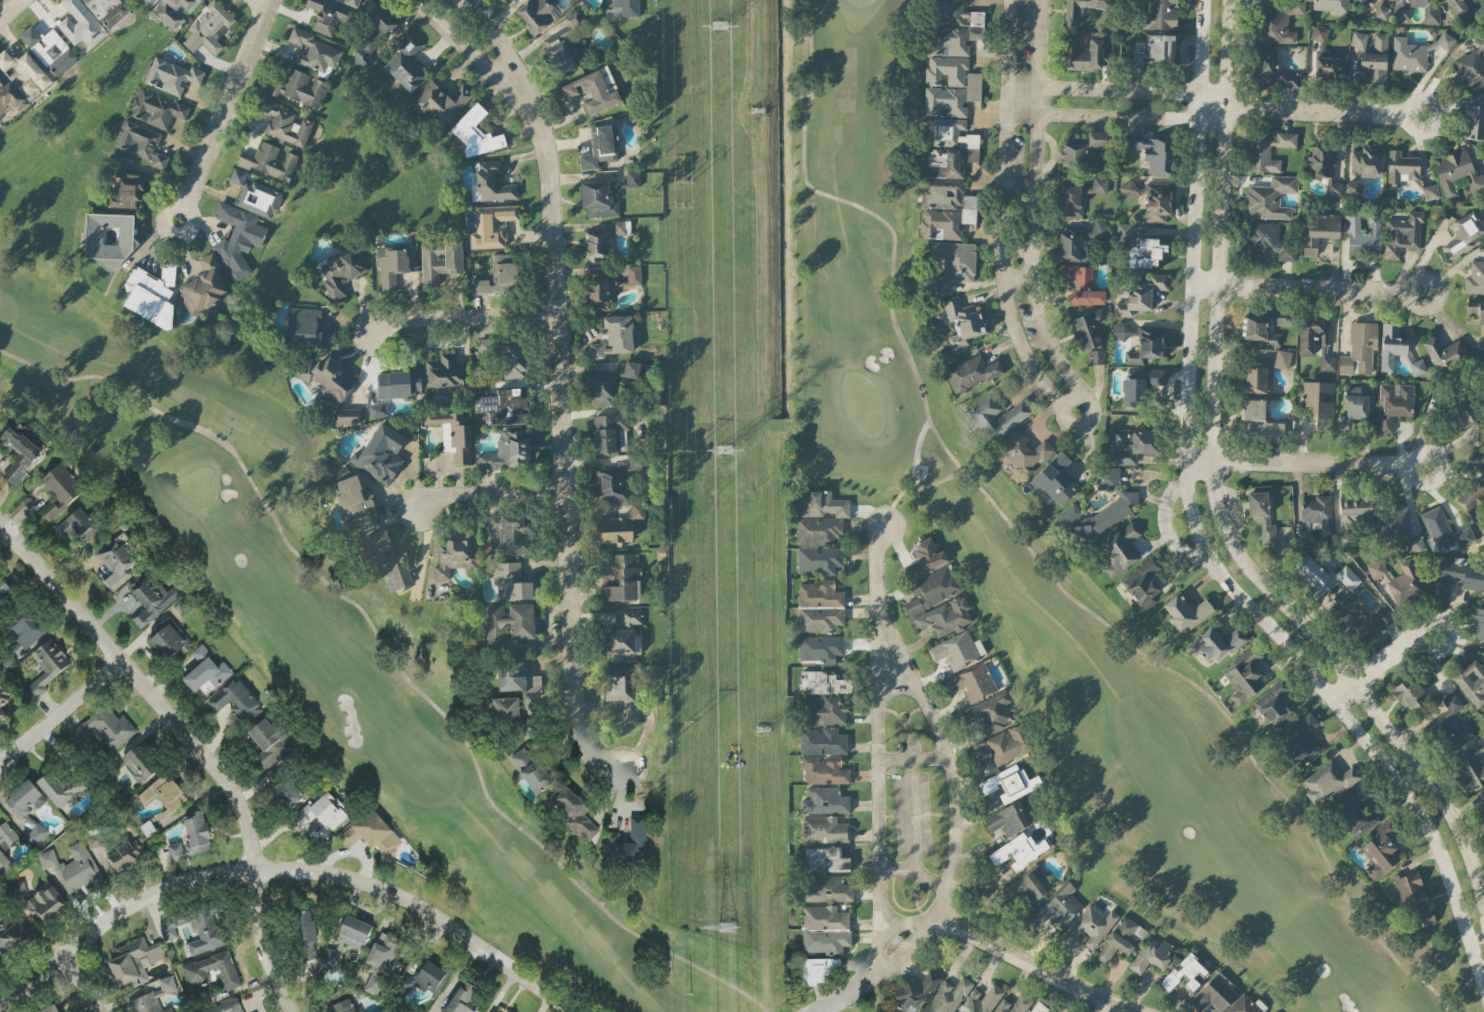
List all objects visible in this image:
building: (501, 0)
building: (148, 1)
road: (259, 2)
building: (351, 2)
building: (1359, 2)
road: (6, 5)
building: (1332, 5)
building: (1457, 7)
building: (623, 8)
building: (1081, 8)
building: (1381, 9)
building: (173, 10)
building: (1159, 13)
building: (1402, 13)
building: (327, 14)
building: (89, 18)
building: (1279, 22)
power tower: (717, 24)
building: (209, 27)
building: (954, 28)
building: (373, 33)
building: (1358, 38)
building: (561, 46)
building: (49, 49)
building: (1153, 50)
building: (314, 51)
road: (503, 51)
building: (1414, 52)
building: (1086, 54)
road: (474, 55)
building: (1328, 55)
building: (1375, 58)
building: (405, 64)
building: (1266, 64)
building: (1471, 66)
building: (24, 73)
building: (172, 75)
building: (1288, 79)
building: (950, 85)
building: (299, 87)
road: (1119, 88)
building: (594, 89)
building: (9, 95)
building: (440, 101)
building: (155, 108)
road: (220, 109)
road: (1322, 110)
power tower: (754, 111)
road: (1119, 115)
building: (1474, 122)
building: (284, 123)
building: (475, 132)
building: (1098, 138)
building: (140, 142)
building: (598, 146)
building: (1073, 151)
building: (1151, 151)
building: (1268, 151)
building: (268, 161)
building: (1366, 161)
building: (1324, 167)
building: (1400, 168)
building: (1457, 173)
power tower: (683, 177)
building: (492, 182)
building: (123, 186)
building: (1352, 187)
building: (1430, 190)
building: (254, 194)
building: (605, 194)
building: (1078, 195)
building: (1269, 197)
building: (1151, 200)
building: (945, 208)
road: (1030, 219)
building: (491, 225)
building: (619, 226)
road: (1005, 229)
building: (1319, 229)
building: (1099, 230)
building: (1124, 230)
building: (1464, 231)
building: (1402, 234)
building: (1362, 235)
building: (108, 238)
building: (237, 238)
building: (1267, 243)
building: (1068, 245)
building: (595, 246)
building: (1145, 252)
building: (439, 259)
building: (394, 263)
building: (953, 263)
building: (341, 271)
building: (498, 274)
building: (1475, 277)
building: (1081, 284)
building: (203, 285)
road: (1306, 285)
building: (610, 287)
building: (151, 294)
building: (1140, 294)
building: (1475, 308)
building: (1281, 317)
building: (961, 320)
road: (471, 321)
building: (306, 327)
road: (1024, 327)
building: (1087, 328)
building: (1121, 330)
building: (1260, 333)
building: (615, 336)
building: (1315, 342)
building: (1390, 345)
building: (487, 346)
building: (1146, 346)
building: (1359, 347)
building: (1444, 353)
building: (1096, 356)
building: (513, 358)
building: (1417, 366)
building: (971, 372)
building: (1262, 372)
building: (445, 373)
building: (397, 383)
building: (611, 384)
building: (1139, 384)
building: (333, 387)
building: (1318, 402)
building: (1393, 403)
building: (503, 406)
building: (1354, 407)
building: (377, 409)
building: (1460, 410)
building: (996, 416)
building: (0, 417)
building: (1256, 419)
building: (610, 432)
building: (453, 434)
building: (1130, 445)
road: (564, 450)
power tower: (685, 450)
power tower: (722, 450)
building: (506, 451)
building: (1024, 452)
building: (20, 453)
building: (380, 453)
building: (1476, 453)
road: (1308, 462)
building: (1053, 480)
building: (609, 483)
building: (61, 491)
road: (493, 492)
road: (1214, 494)
building: (1471, 494)
building: (353, 500)
building: (1122, 502)
building: (819, 503)
building: (1318, 511)
building: (1260, 514)
building: (1393, 519)
road: (1162, 522)
building: (621, 525)
building: (81, 527)
building: (817, 530)
building: (1443, 530)
building: (511, 533)
road: (4, 539)
road: (1199, 539)
building: (1414, 542)
building: (1120, 549)
building: (455, 556)
building: (924, 558)
building: (387, 559)
building: (819, 559)
road: (873, 560)
building: (118, 561)
park: (1046, 570)
building: (1322, 576)
building: (1458, 576)
building: (623, 579)
building: (512, 581)
building: (1399, 581)
building: (1143, 585)
building: (5, 591)
building: (151, 600)
building: (937, 602)
building: (819, 607)
building: (1185, 611)
building: (1348, 613)
building: (627, 616)
building: (1380, 618)
building: (1478, 620)
building: (511, 621)
park: (321, 629)
building: (26, 631)
building: (170, 641)
building: (1215, 643)
building: (622, 644)
road: (896, 644)
building: (820, 647)
road: (874, 649)
building: (957, 649)
road: (1379, 661)
building: (48, 668)
building: (208, 671)
building: (518, 674)
building: (1243, 675)
building: (1471, 681)
building: (823, 682)
building: (972, 682)
building: (621, 689)
road: (879, 692)
building: (1407, 695)
building: (237, 701)
building: (1272, 701)
building: (4, 702)
building: (510, 711)
building: (827, 711)
building: (989, 712)
road: (60, 716)
power tower: (690, 720)
building: (1450, 723)
building: (107, 729)
power tower: (761, 731)
building: (1300, 739)
building: (822, 740)
building: (1005, 743)
building: (271, 744)
road: (193, 745)
road: (911, 759)
building: (142, 764)
building: (1470, 767)
building: (823, 770)
building: (534, 772)
building: (1327, 781)
building: (1009, 782)
building: (63, 790)
building: (166, 794)
building: (290, 794)
building: (26, 800)
building: (824, 800)
building: (1357, 811)
building: (574, 812)
building: (1482, 813)
building: (323, 814)
building: (1008, 817)
building: (823, 829)
road: (911, 831)
building: (373, 834)
building: (8, 836)
building: (38, 836)
building: (639, 839)
building: (194, 840)
building: (98, 842)
building: (1380, 848)
building: (1018, 850)
building: (127, 857)
building: (825, 859)
building: (4, 862)
building: (73, 868)
road: (283, 871)
road: (928, 876)
building: (1029, 884)
building: (21, 887)
building: (827, 888)
building: (1414, 898)
building: (47, 906)
building: (1057, 906)
building: (824, 917)
building: (1089, 926)
building: (174, 928)
building: (308, 928)
power tower: (727, 928)
building: (207, 933)
building: (14, 936)
building: (1120, 937)
road: (877, 938)
building: (349, 941)
building: (826, 942)
road: (904, 946)
building: (311, 954)
building: (387, 955)
building: (1151, 955)
road: (1027, 962)
building: (136, 963)
building: (0, 966)
building: (199, 971)
building: (818, 971)
building: (1185, 973)
building: (432, 978)
road: (79, 983)
building: (375, 983)
building: (914, 992)
building: (1212, 993)
building: (948, 995)
building: (156, 997)
road: (846, 997)
building: (465, 998)
building: (980, 999)
building: (1010, 1004)
building: (1246, 1005)
building: (346, 1007)
building: (1037, 1007)
building: (231, 1008)
park: (873, 1008)
building: (53, 1009)
building: (170, 1010)
road: (1124, 1010)
road: (1127, 1010)

